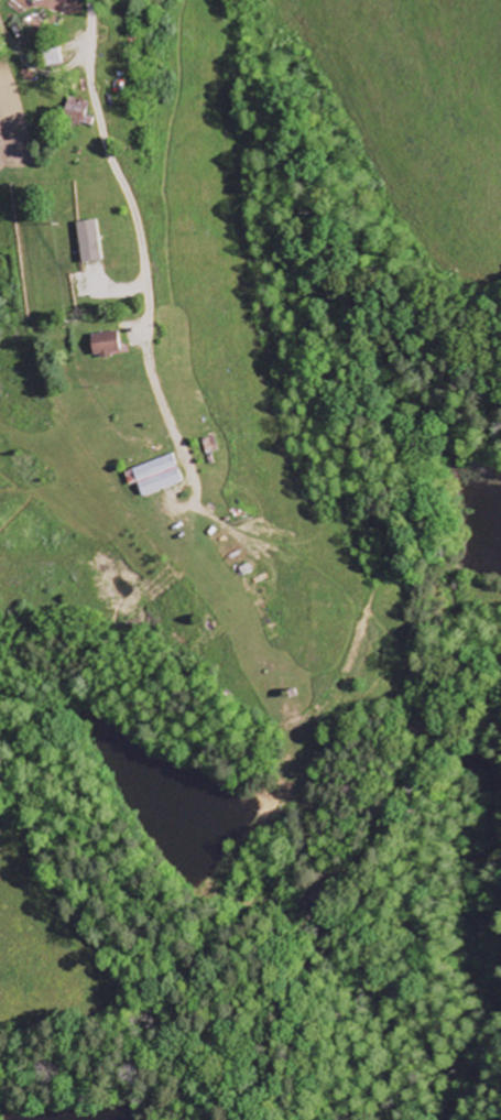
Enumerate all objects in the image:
road: (99, 20)
building: (55, 57)
building: (78, 112)
building: (89, 242)
building: (108, 345)
building: (156, 476)

